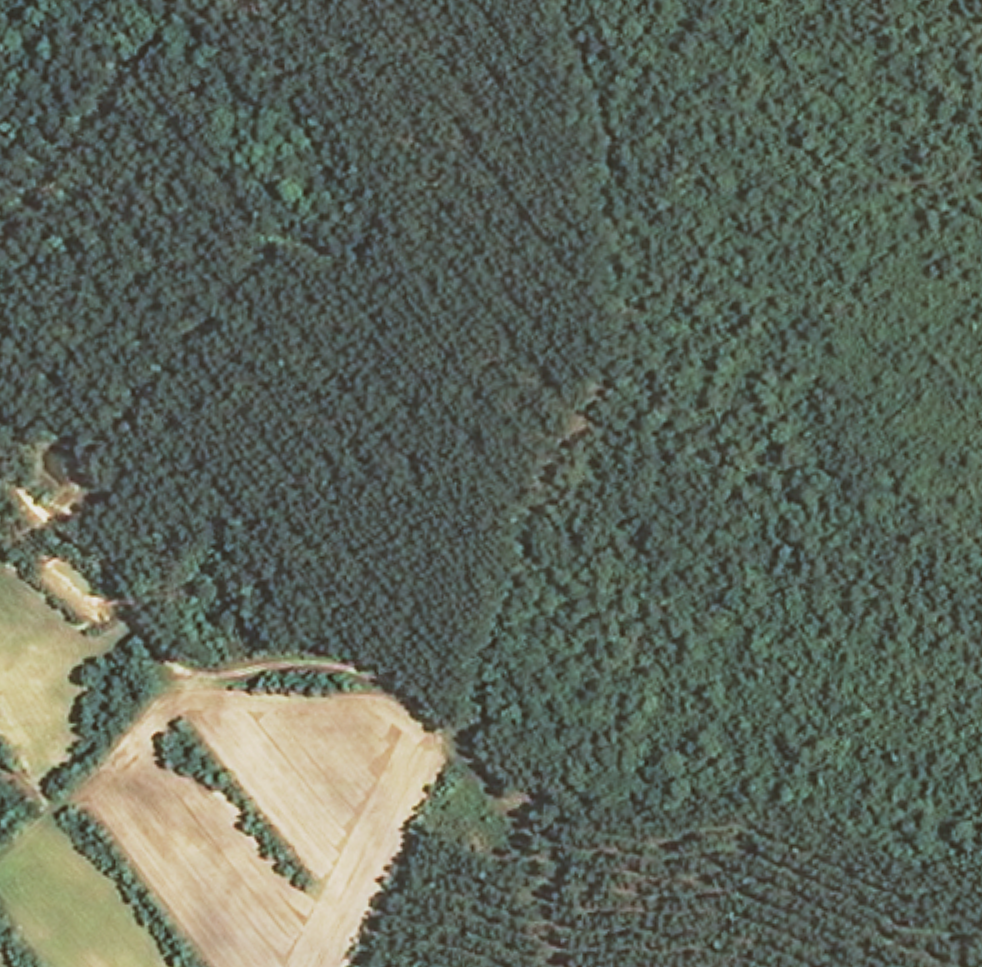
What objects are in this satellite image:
road: (153, 147)

